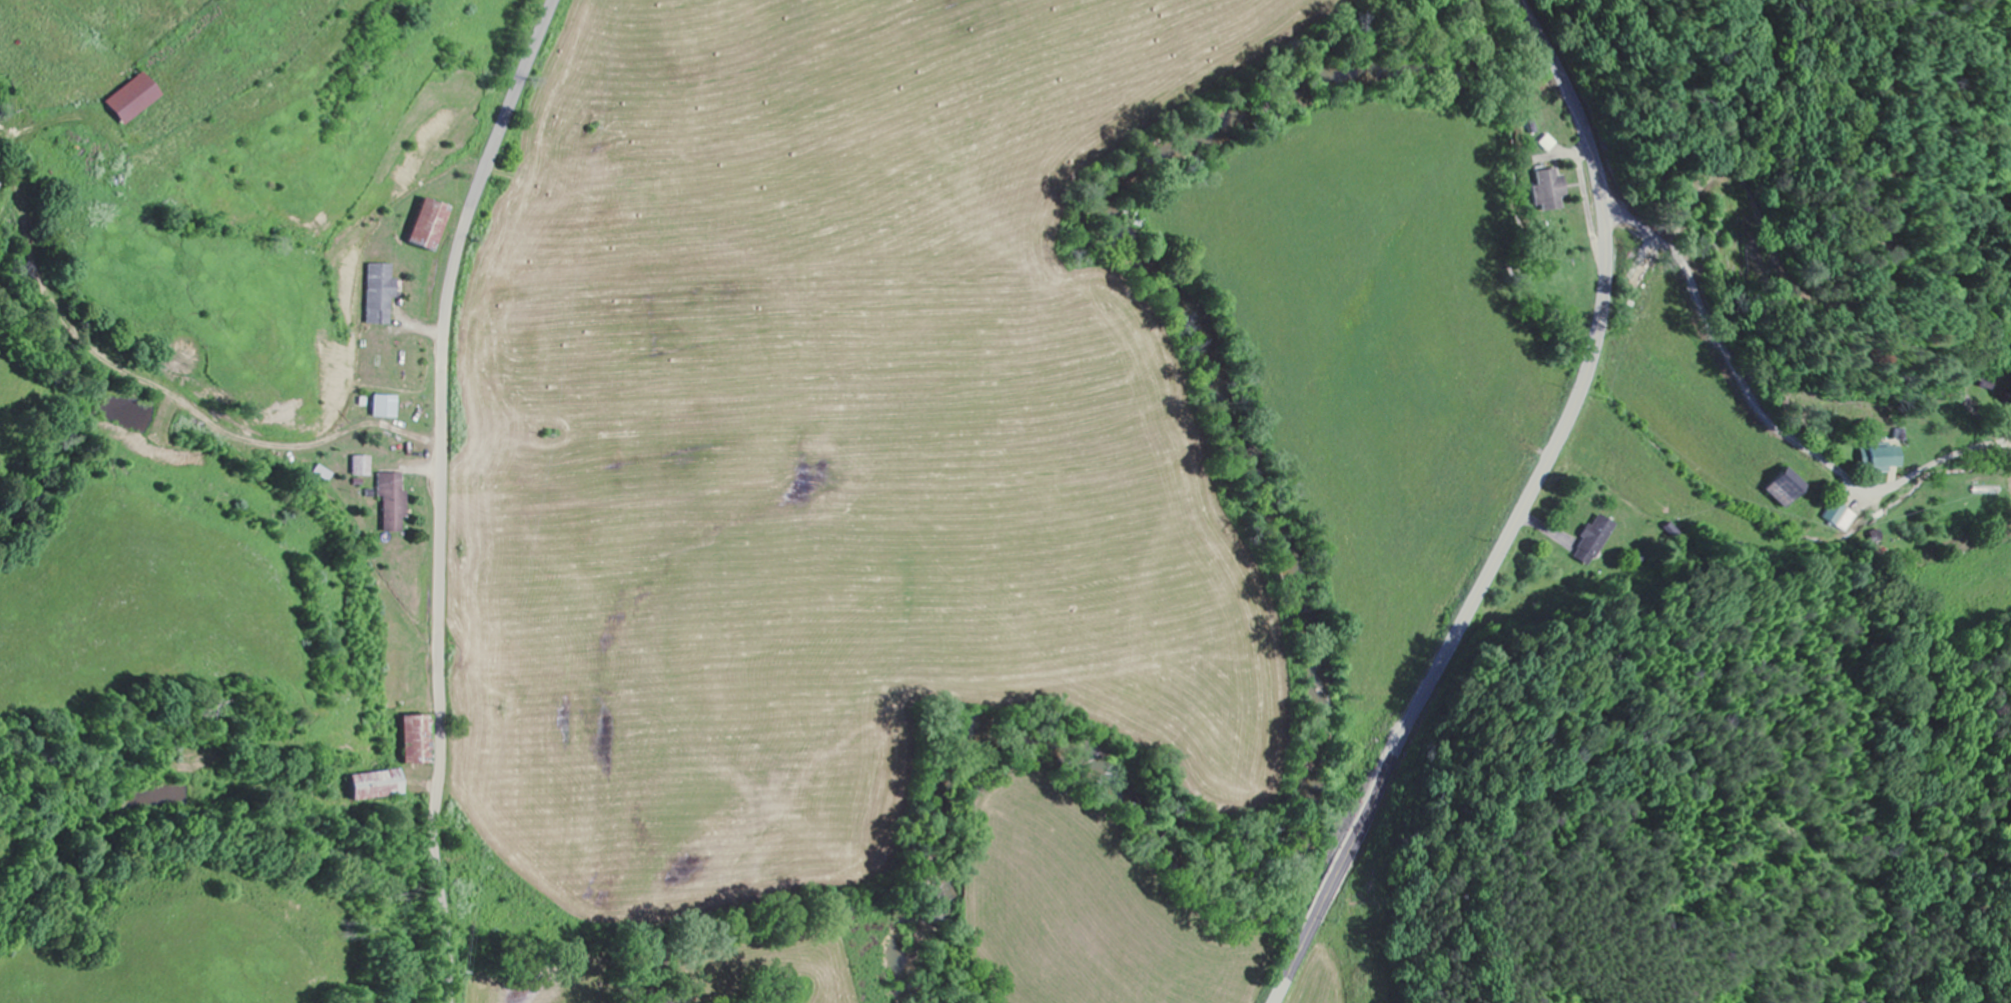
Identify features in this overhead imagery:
building: (131, 100)
building: (1548, 144)
building: (1550, 191)
building: (429, 225)
building: (1642, 273)
building: (380, 294)
building: (2005, 402)
building: (384, 408)
road: (1762, 411)
building: (1884, 459)
building: (1787, 489)
road: (441, 492)
building: (392, 503)
road: (1519, 512)
building: (1840, 517)
building: (1594, 541)
river: (1310, 599)
building: (414, 741)
building: (376, 786)

